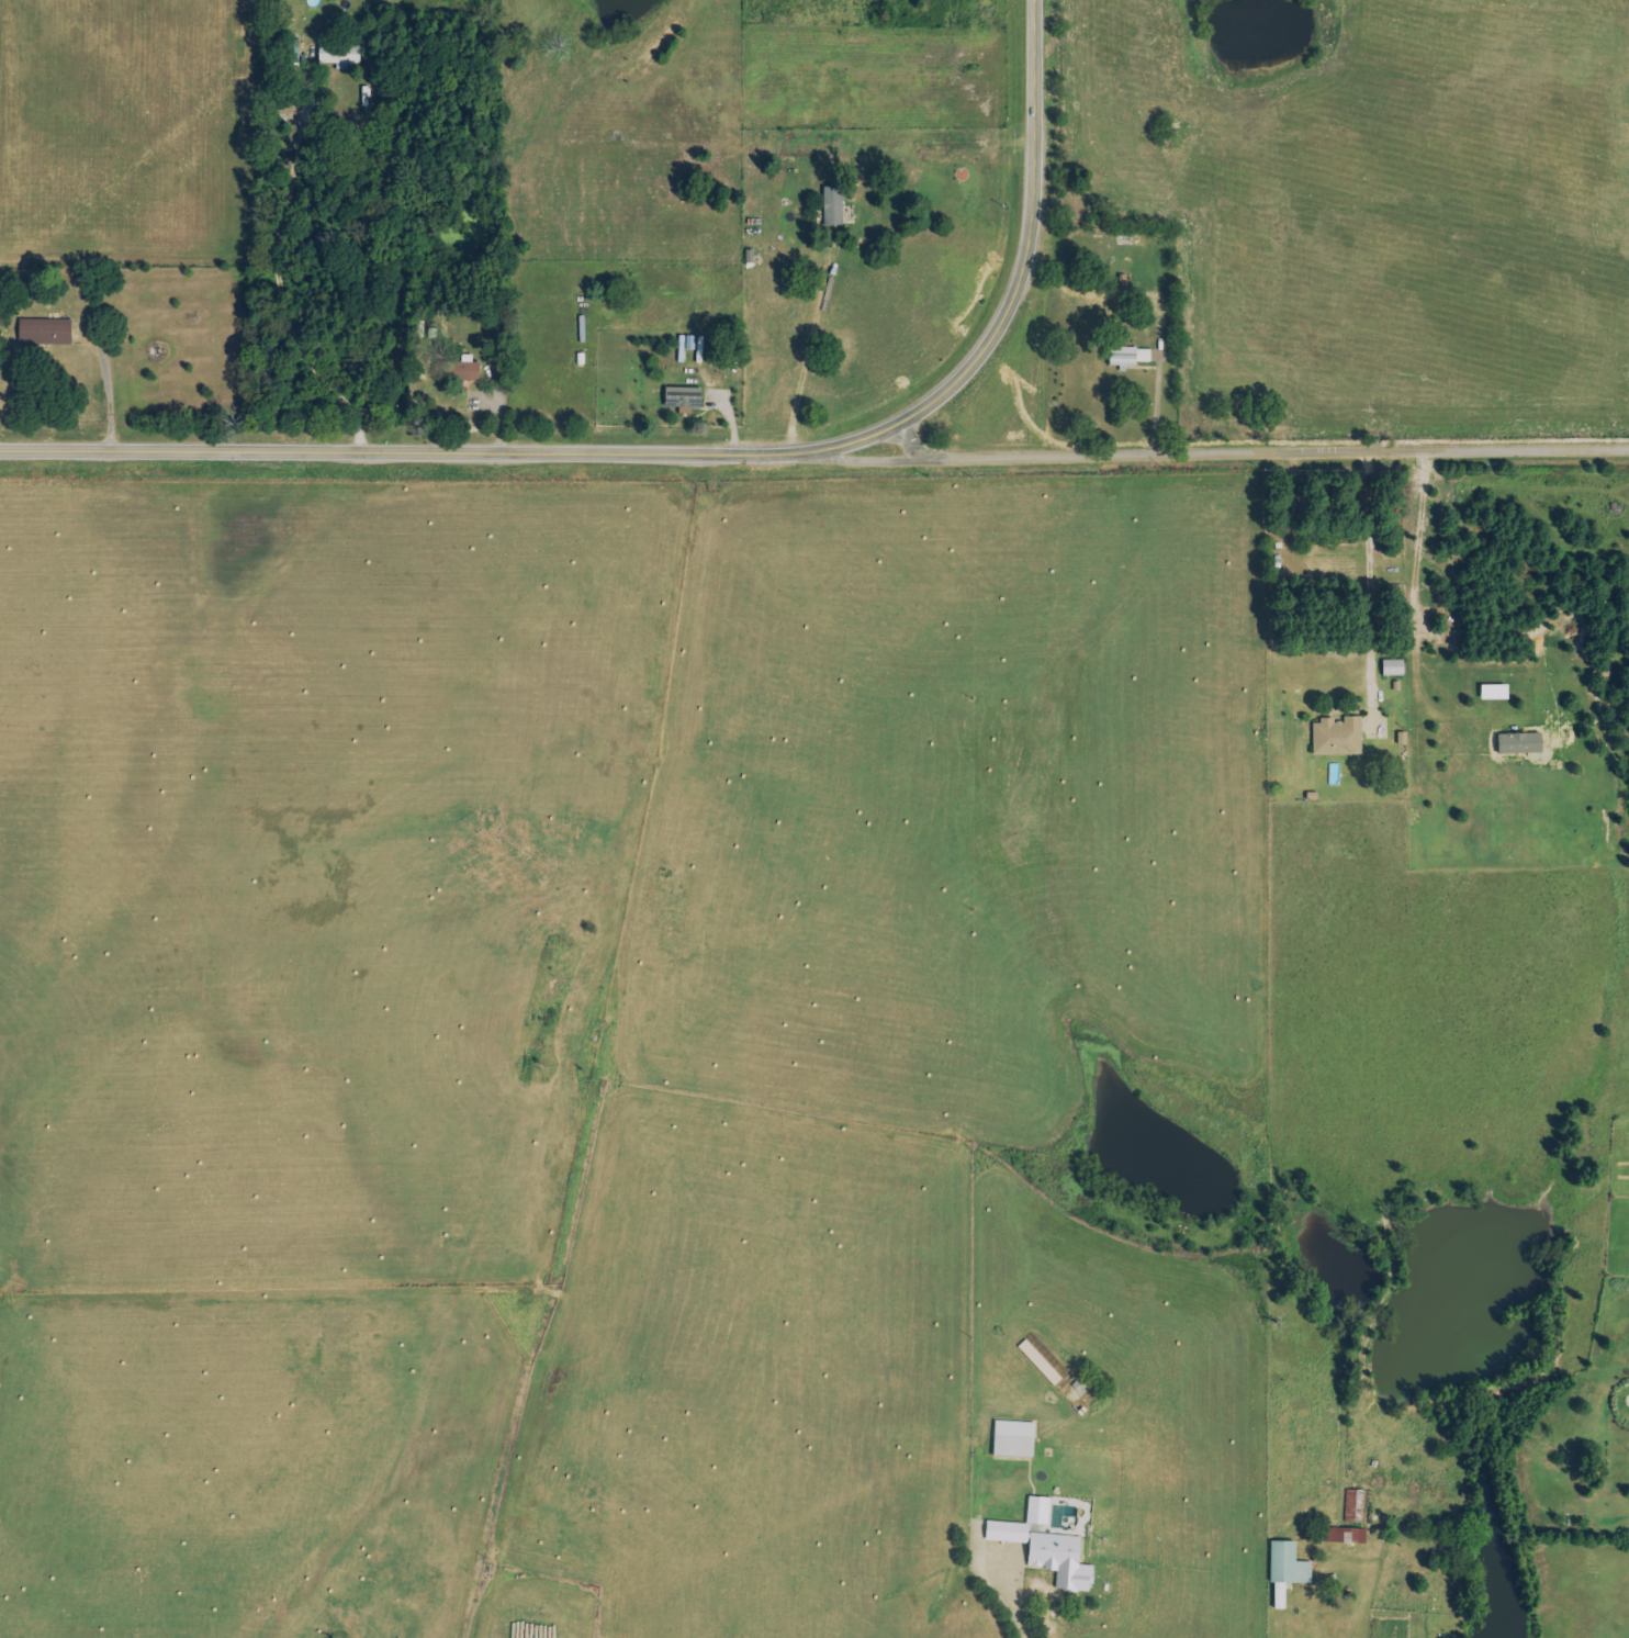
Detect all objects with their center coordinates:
building: (833, 206)
road: (283, 291)
building: (45, 332)
road: (810, 346)
building: (1128, 356)
building: (469, 369)
road: (108, 386)
building: (683, 399)
road: (1251, 446)
road: (685, 450)
road: (1422, 541)
road: (1370, 575)
building: (1393, 667)
building: (1494, 693)
building: (1337, 737)
building: (1013, 1438)
building: (1037, 1510)
building: (1350, 1519)
building: (1007, 1532)
building: (1060, 1560)
building: (1285, 1570)
road: (1004, 1598)
road: (1266, 1626)

